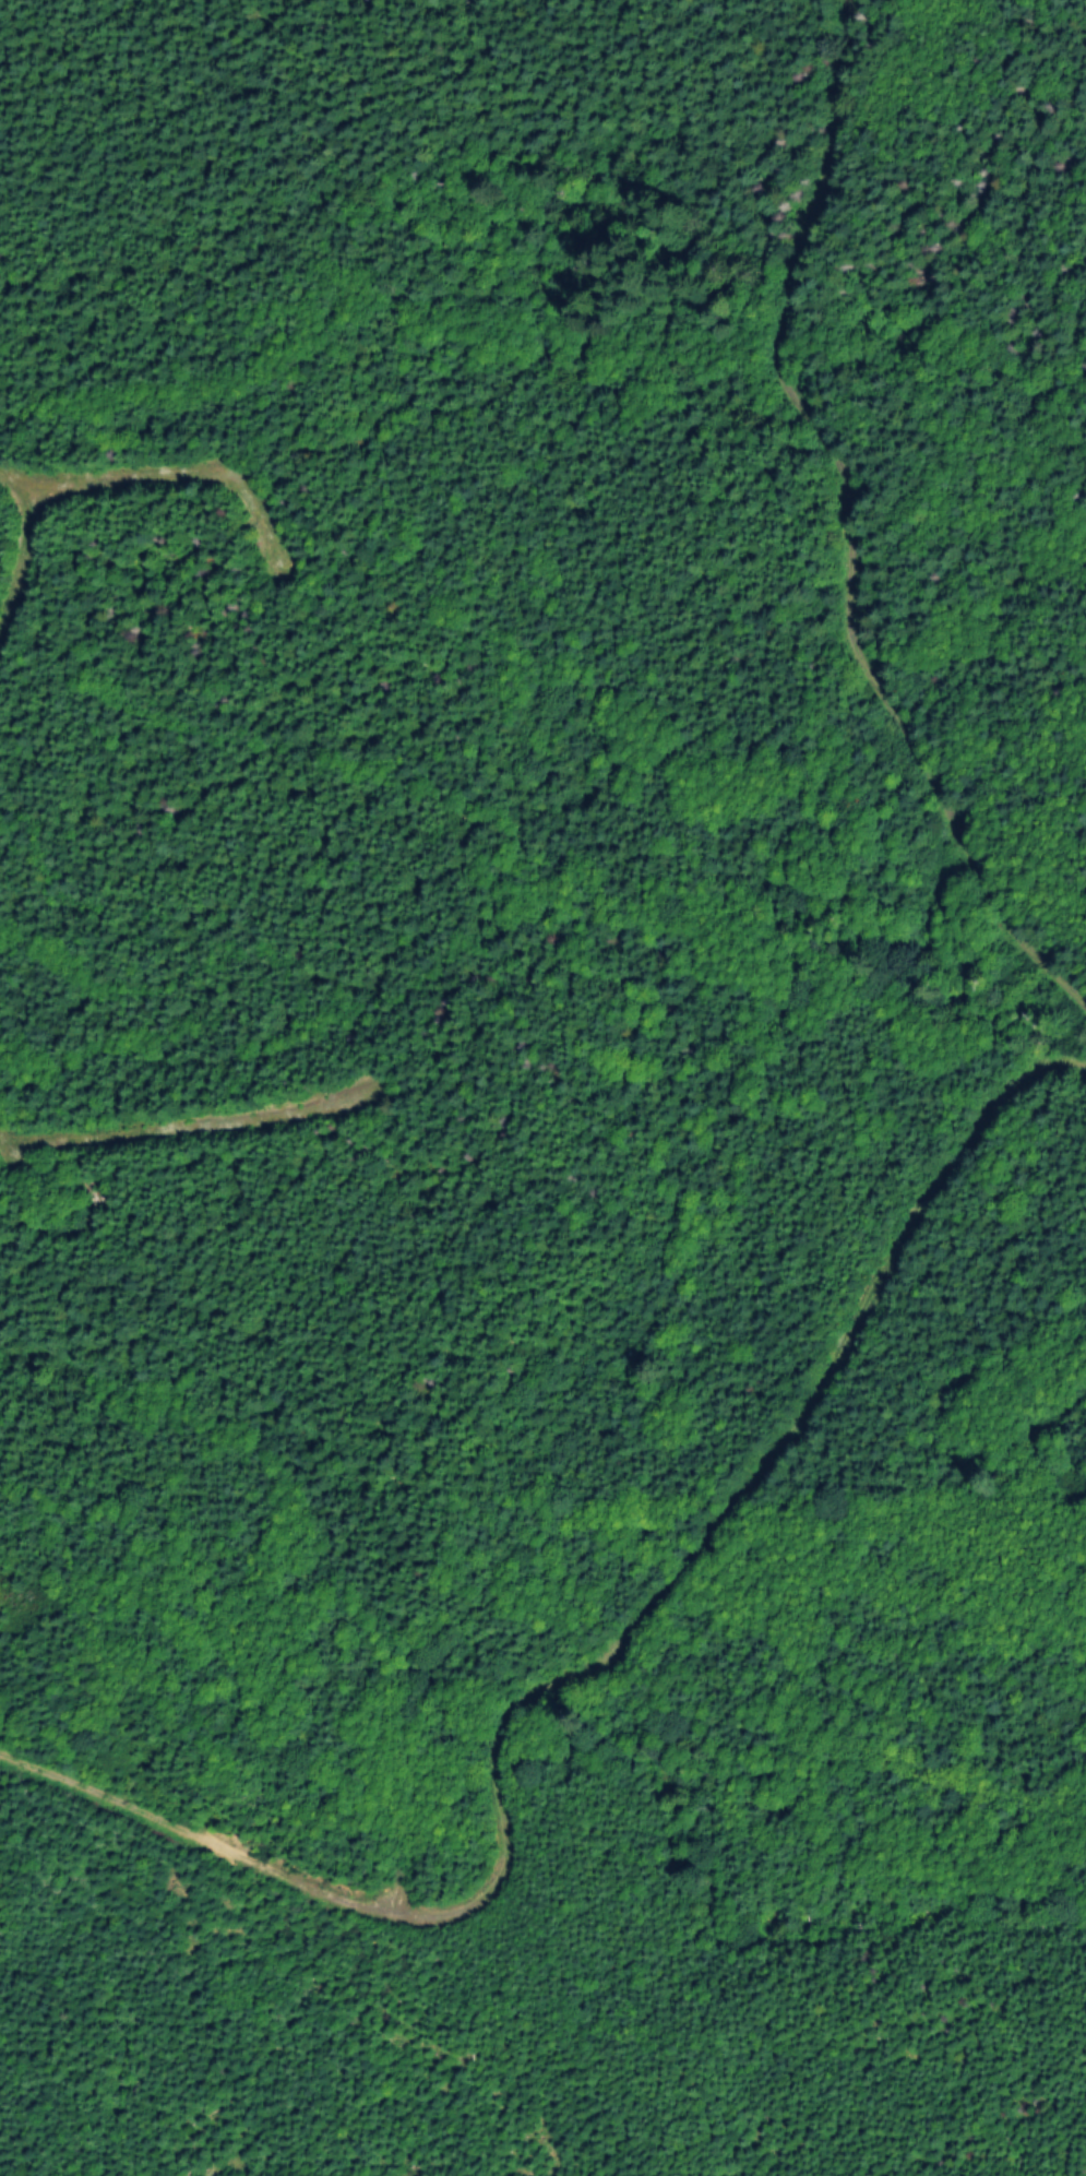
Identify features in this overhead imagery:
road: (856, 582)
road: (1072, 1305)

